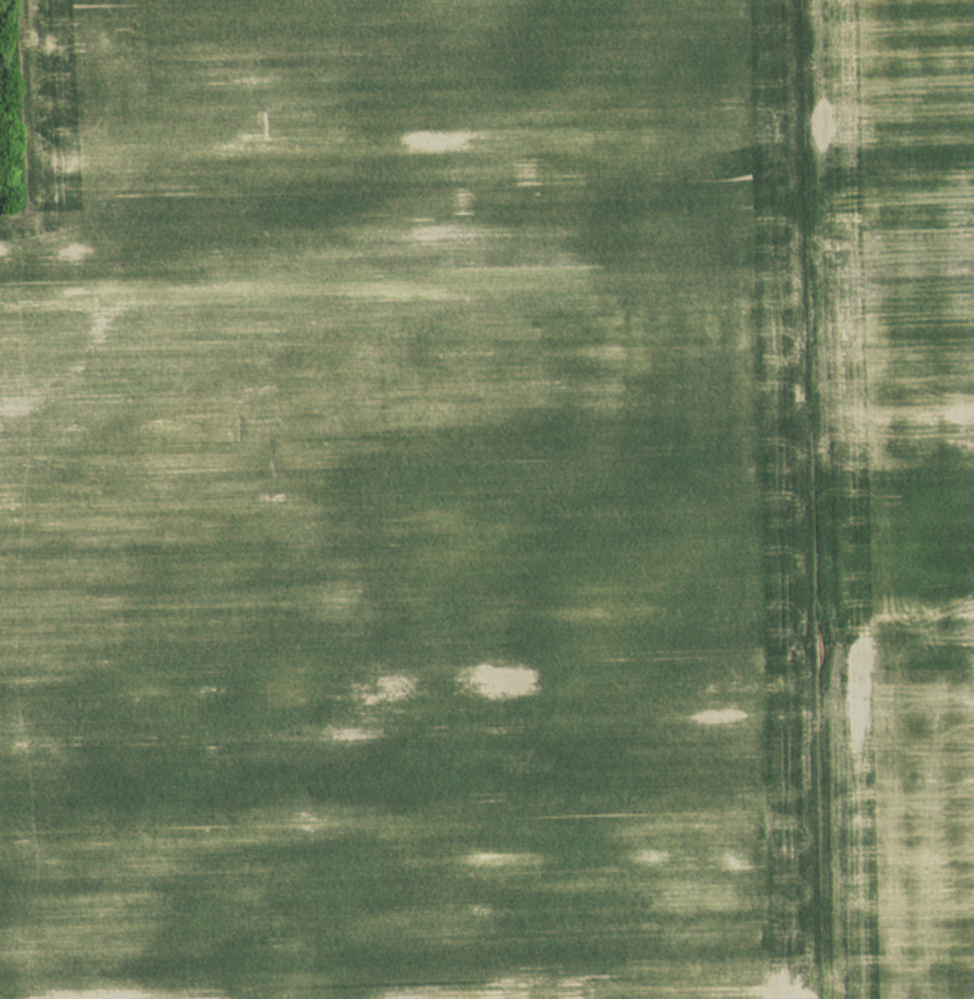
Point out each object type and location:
crop: (489, 501)

